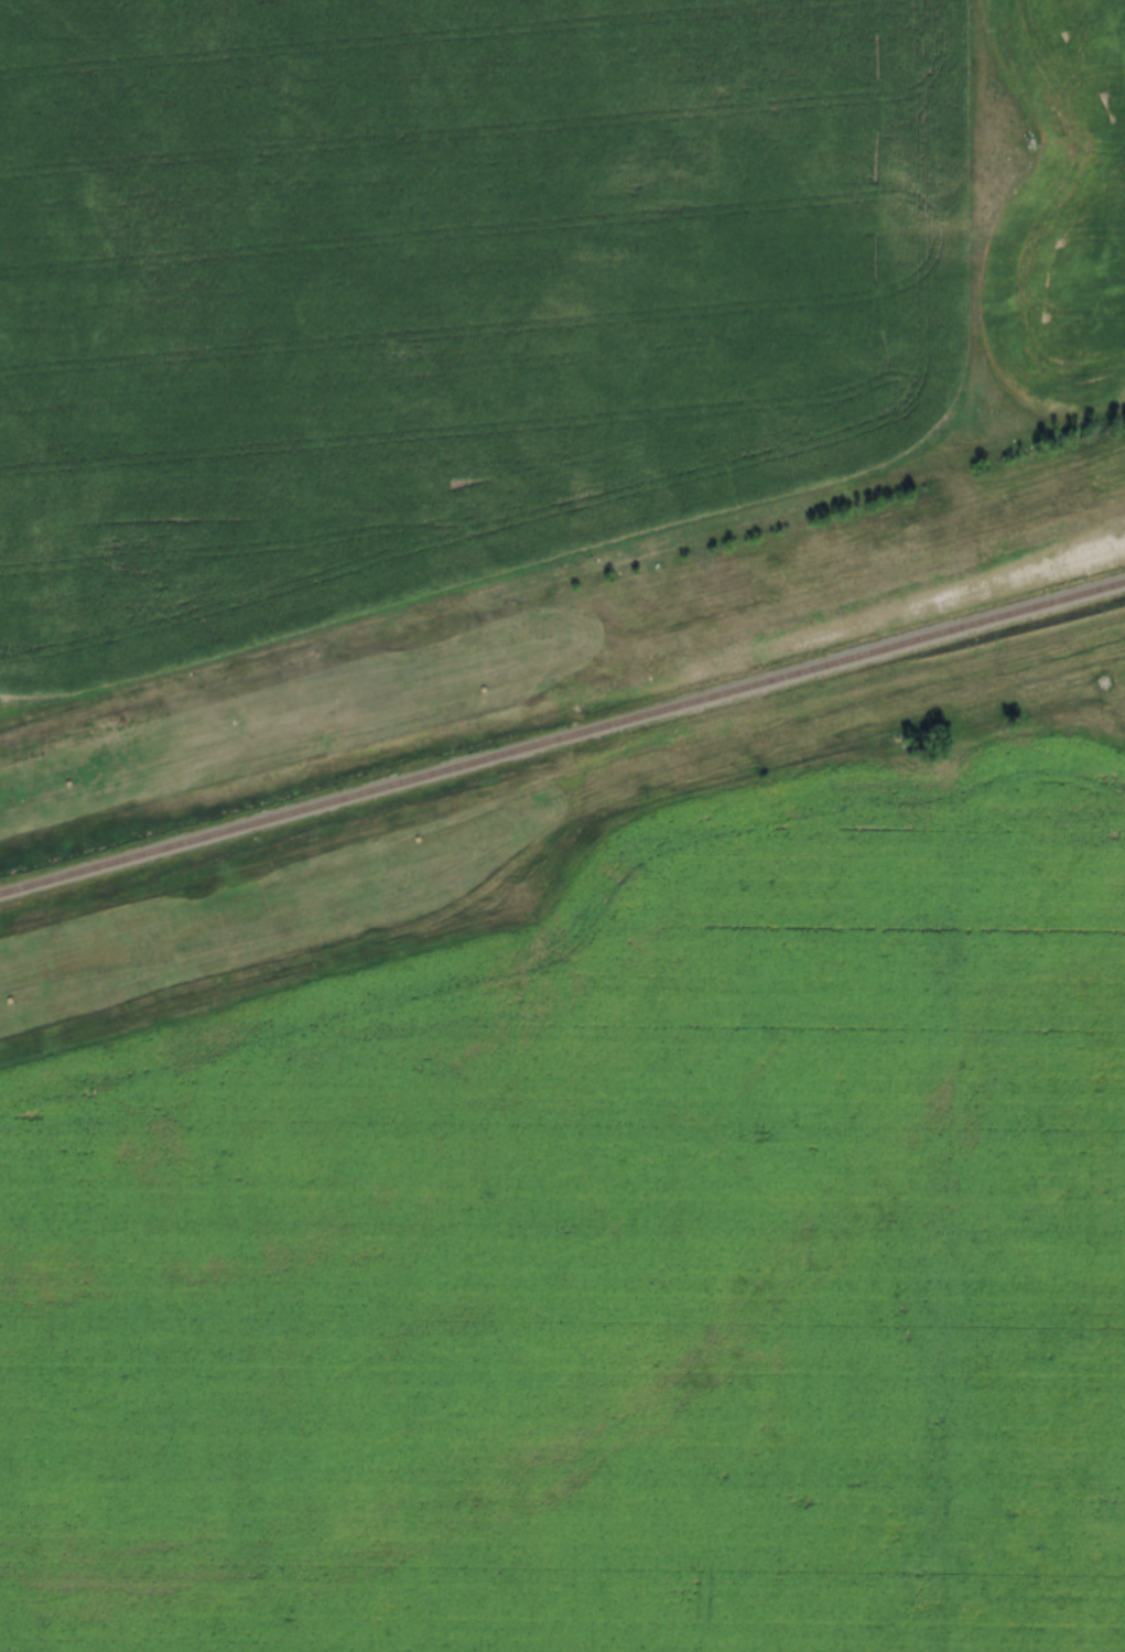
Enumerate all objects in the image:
railway: (562, 743)

